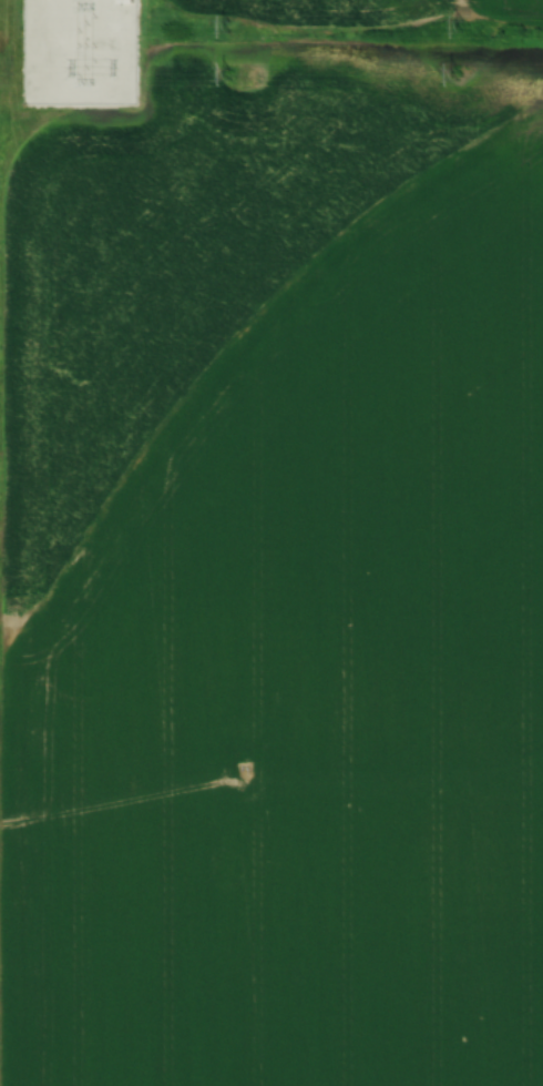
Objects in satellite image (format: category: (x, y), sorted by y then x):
power tower: (229, 27)
power tower: (462, 27)
power substation: (81, 51)
power tower: (457, 74)
power tower: (228, 75)

